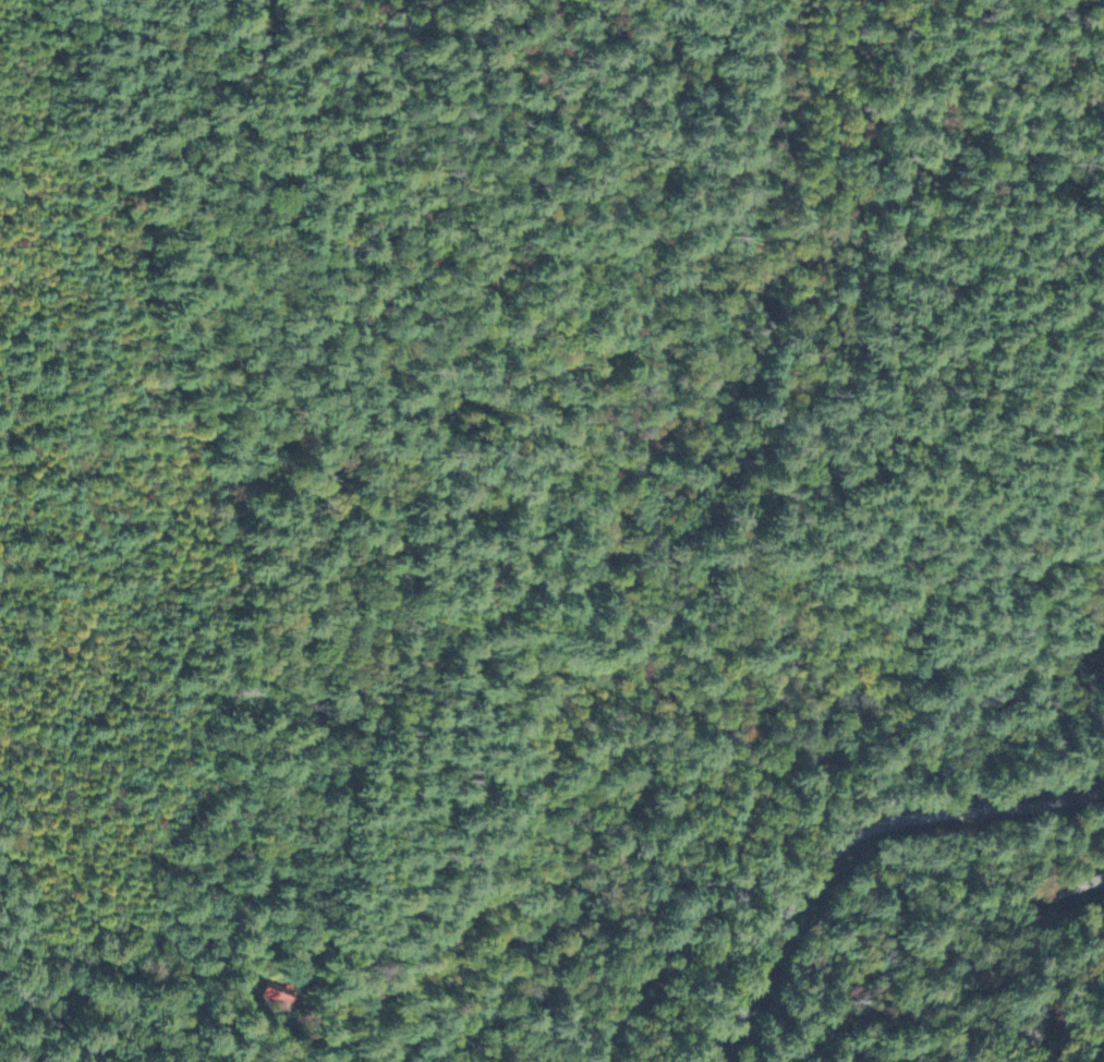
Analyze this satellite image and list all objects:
road: (849, 841)

